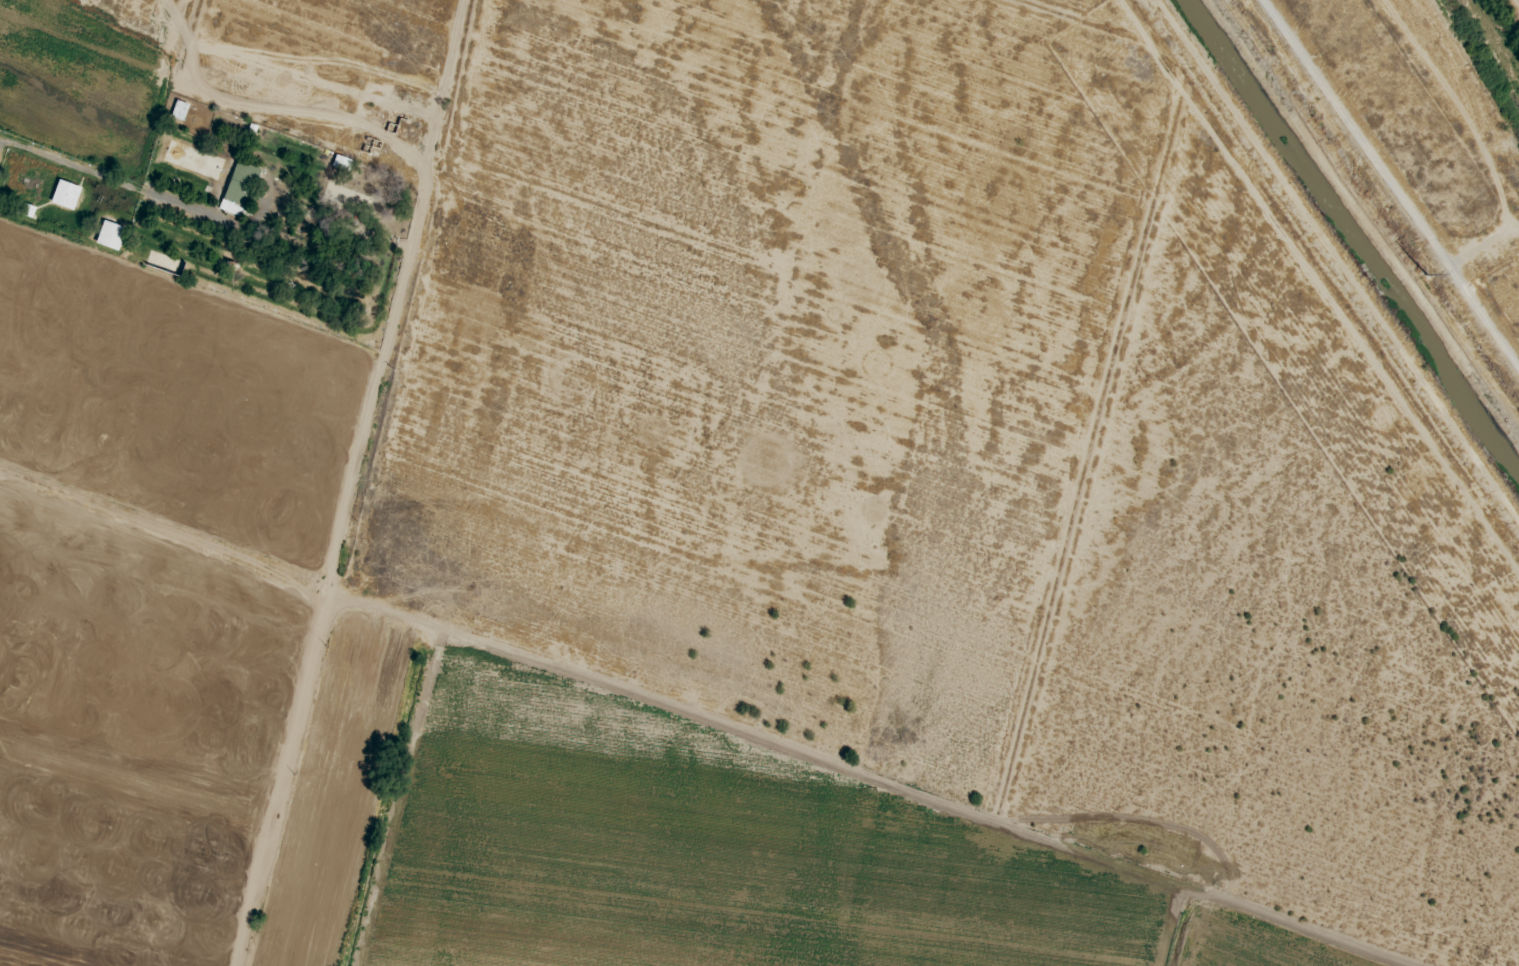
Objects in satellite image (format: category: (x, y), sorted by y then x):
river: (1496, 42)
road: (290, 114)
road: (1390, 184)
road: (1332, 267)
power tower: (1420, 275)
road: (329, 592)

